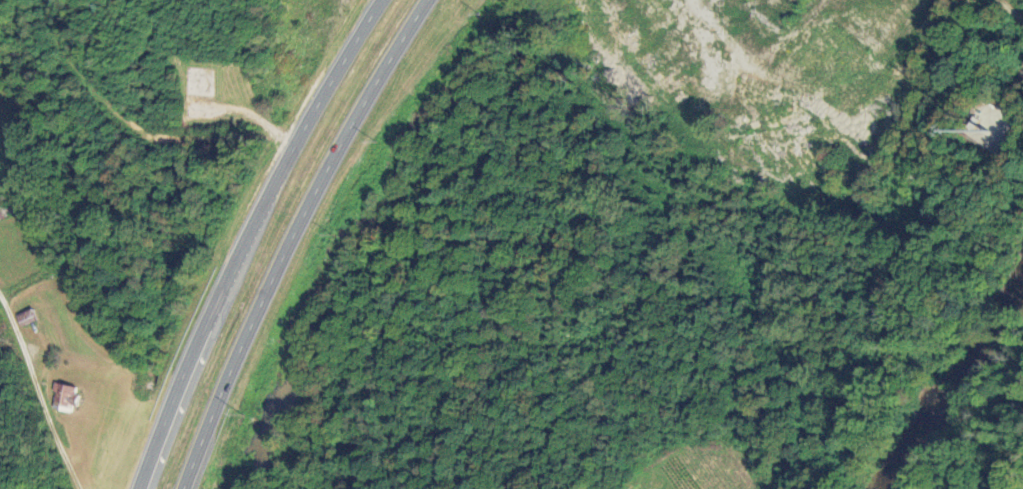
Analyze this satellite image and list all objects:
road: (287, 237)
road: (246, 238)
road: (28, 376)
river: (951, 383)
building: (65, 398)
river: (886, 482)

